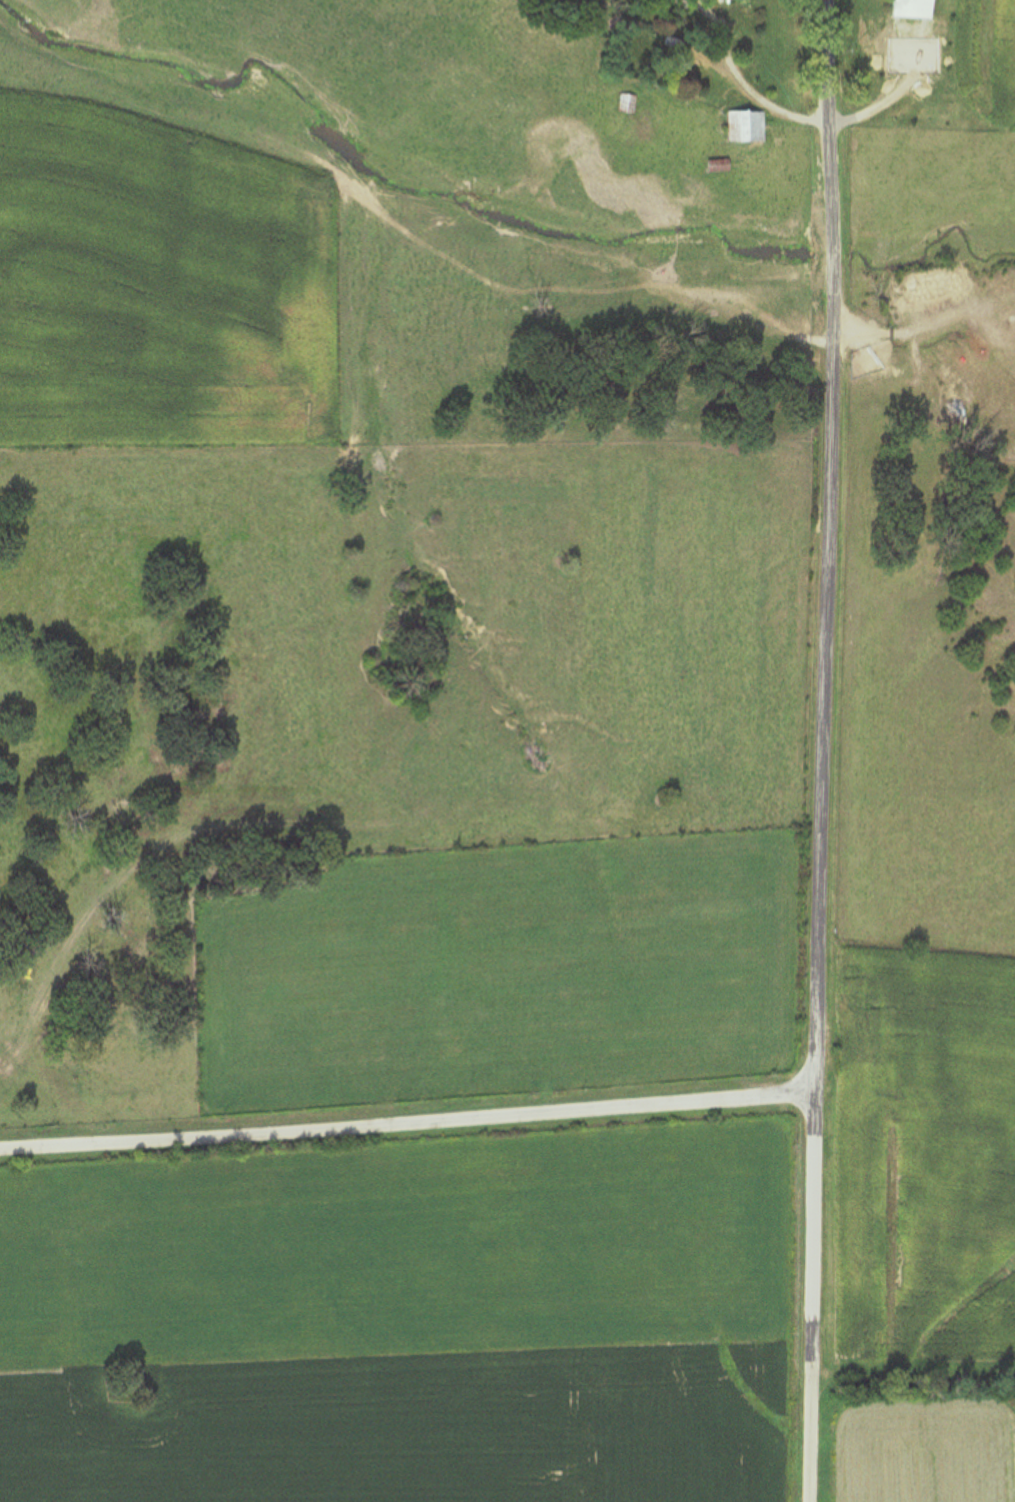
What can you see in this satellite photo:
building: (916, 9)
building: (677, 43)
building: (902, 62)
building: (629, 104)
building: (749, 127)
road: (824, 751)
road: (408, 1118)
road: (913, 1396)

